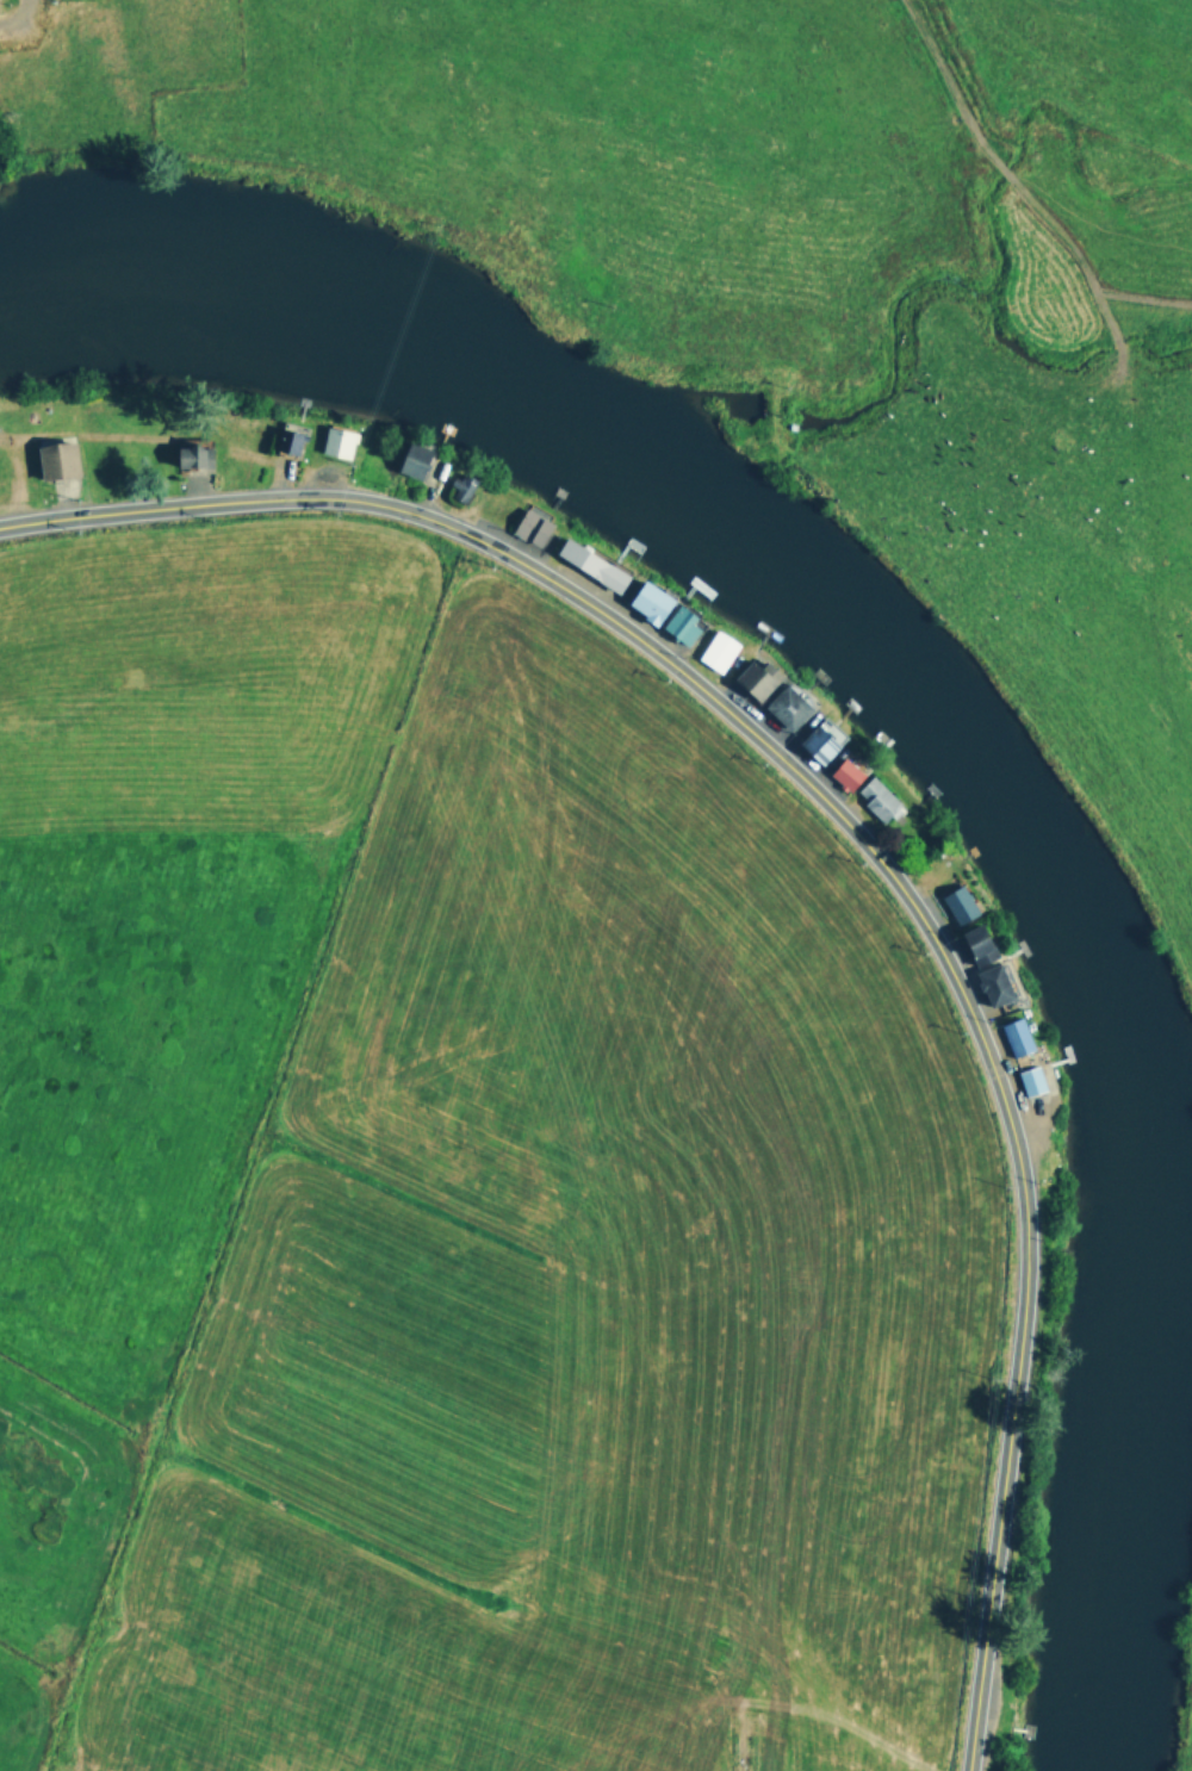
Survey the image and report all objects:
crop: (824, 262)
building: (285, 440)
building: (335, 440)
building: (190, 454)
building: (54, 458)
building: (410, 458)
building: (461, 485)
building: (528, 523)
building: (588, 563)
building: (646, 599)
building: (677, 622)
building: (714, 650)
building: (753, 677)
building: (784, 704)
river: (954, 732)
building: (819, 739)
building: (843, 772)
building: (874, 796)
road: (863, 835)
building: (956, 902)
building: (974, 943)
building: (991, 983)
building: (1013, 1034)
building: (1029, 1079)
crop: (459, 1194)

